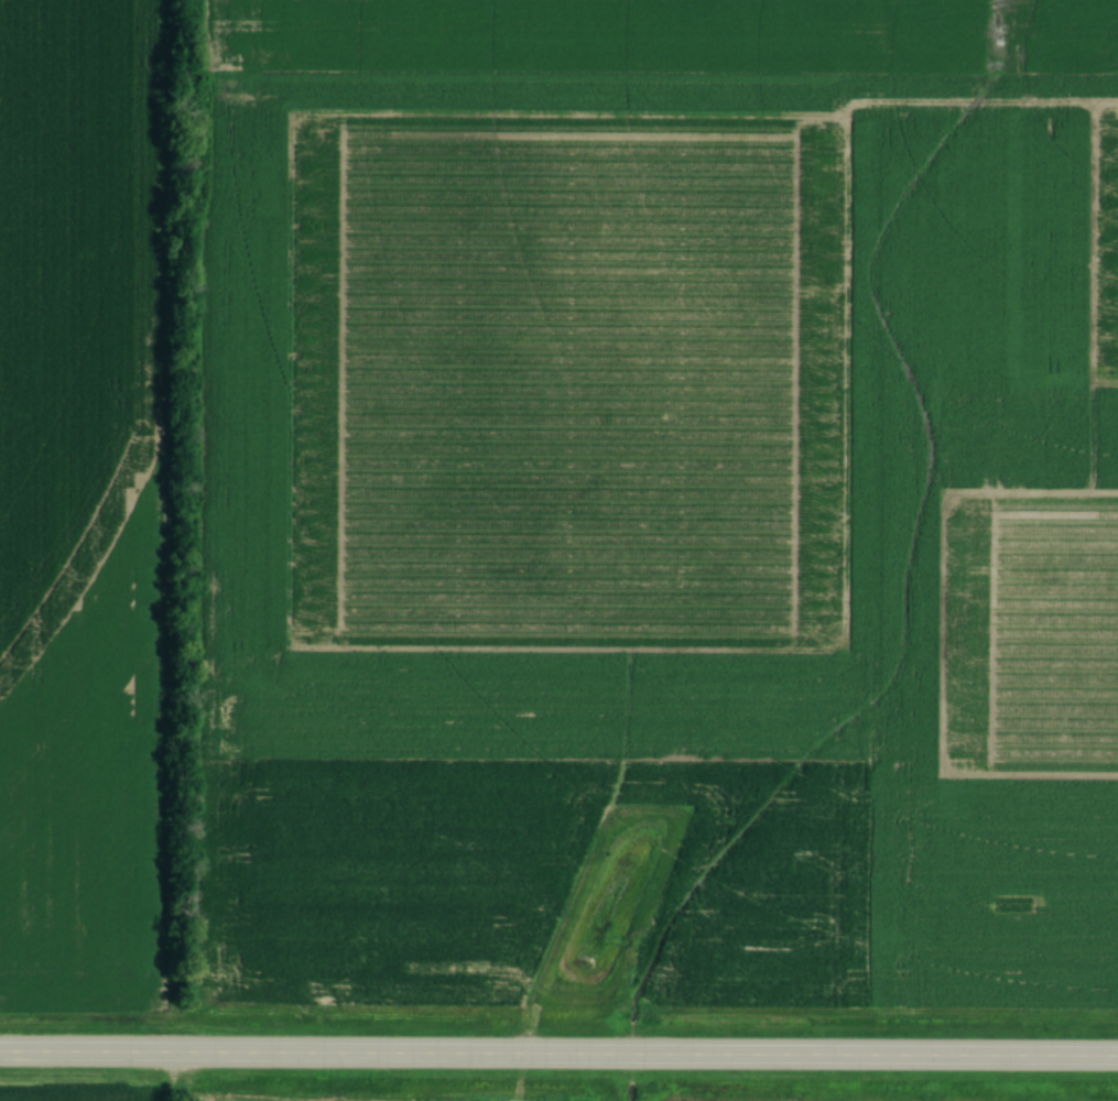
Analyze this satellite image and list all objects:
road: (558, 1048)

